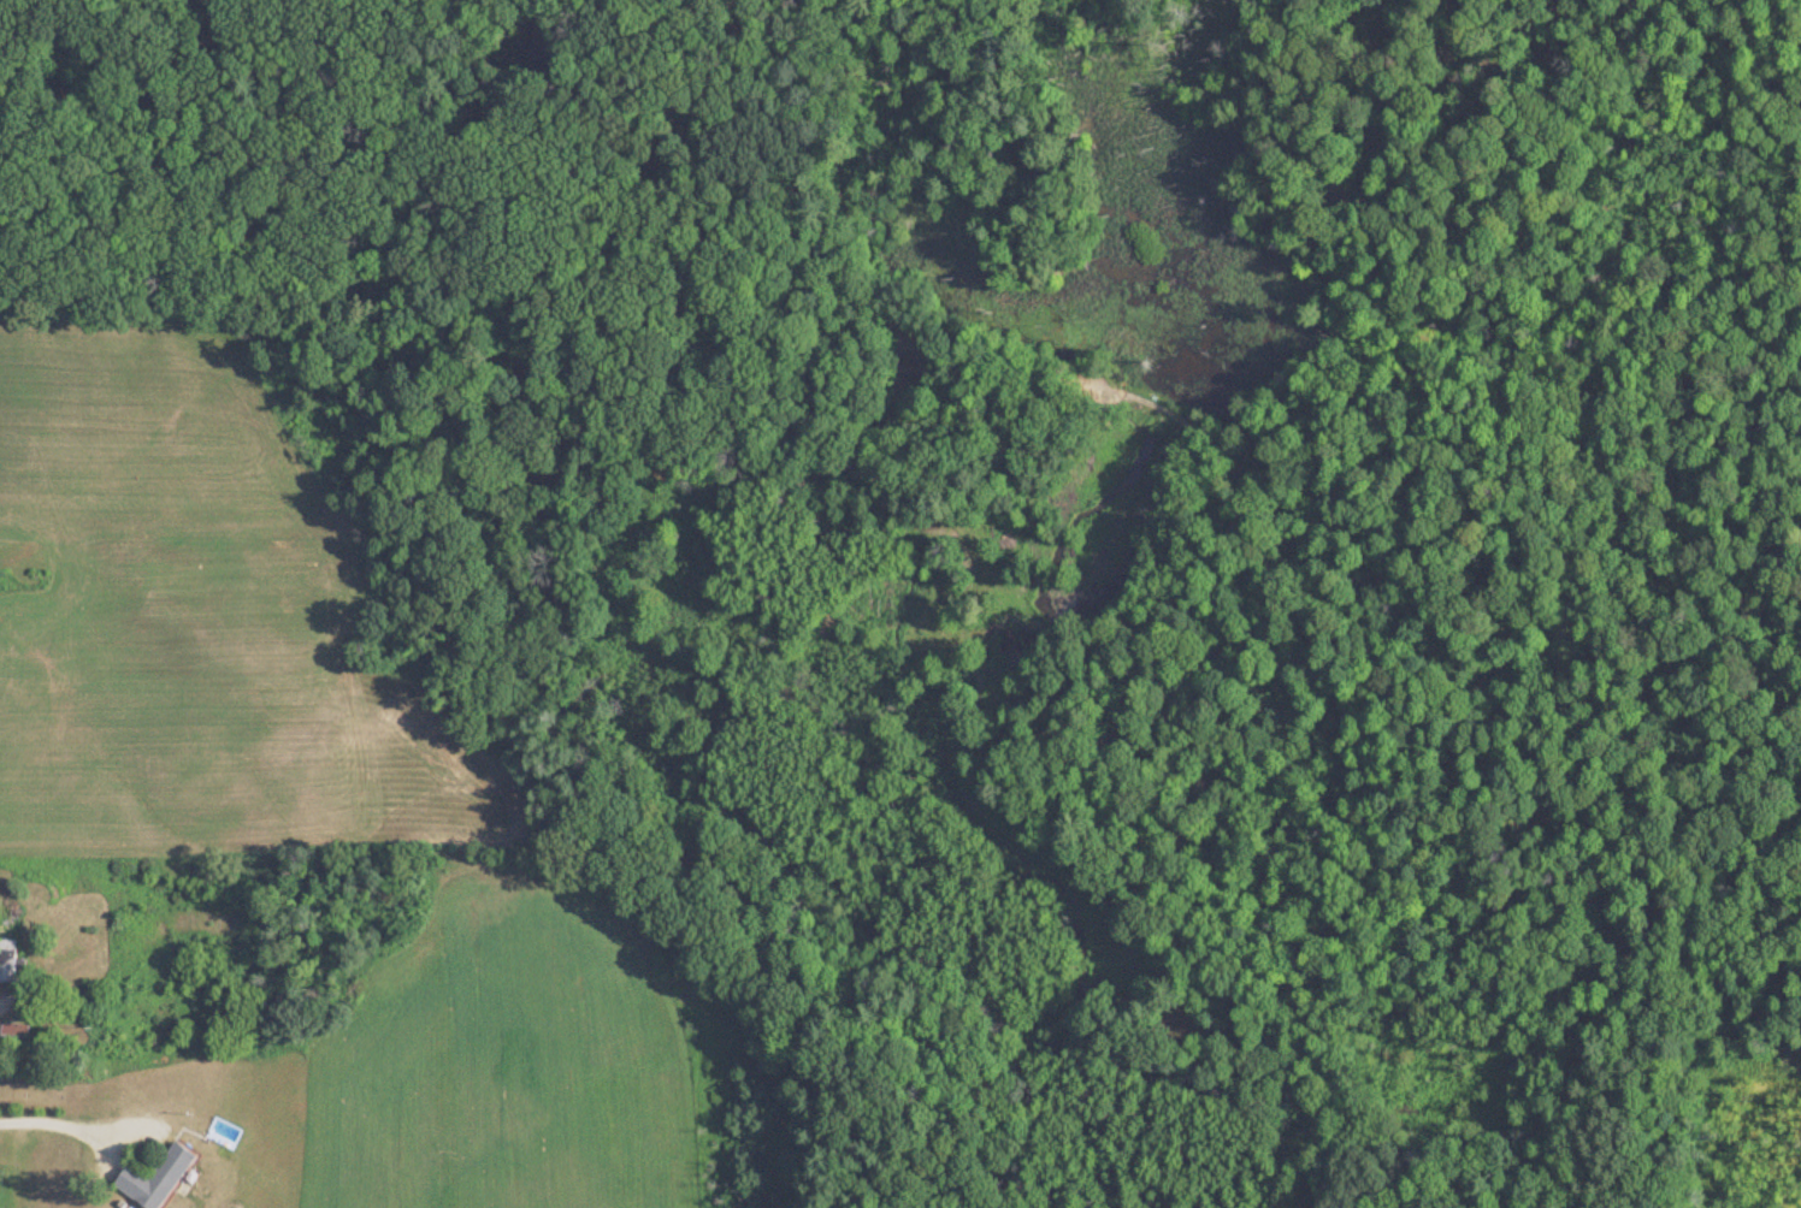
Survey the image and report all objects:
building: (6, 960)
road: (55, 1120)
building: (153, 1178)

